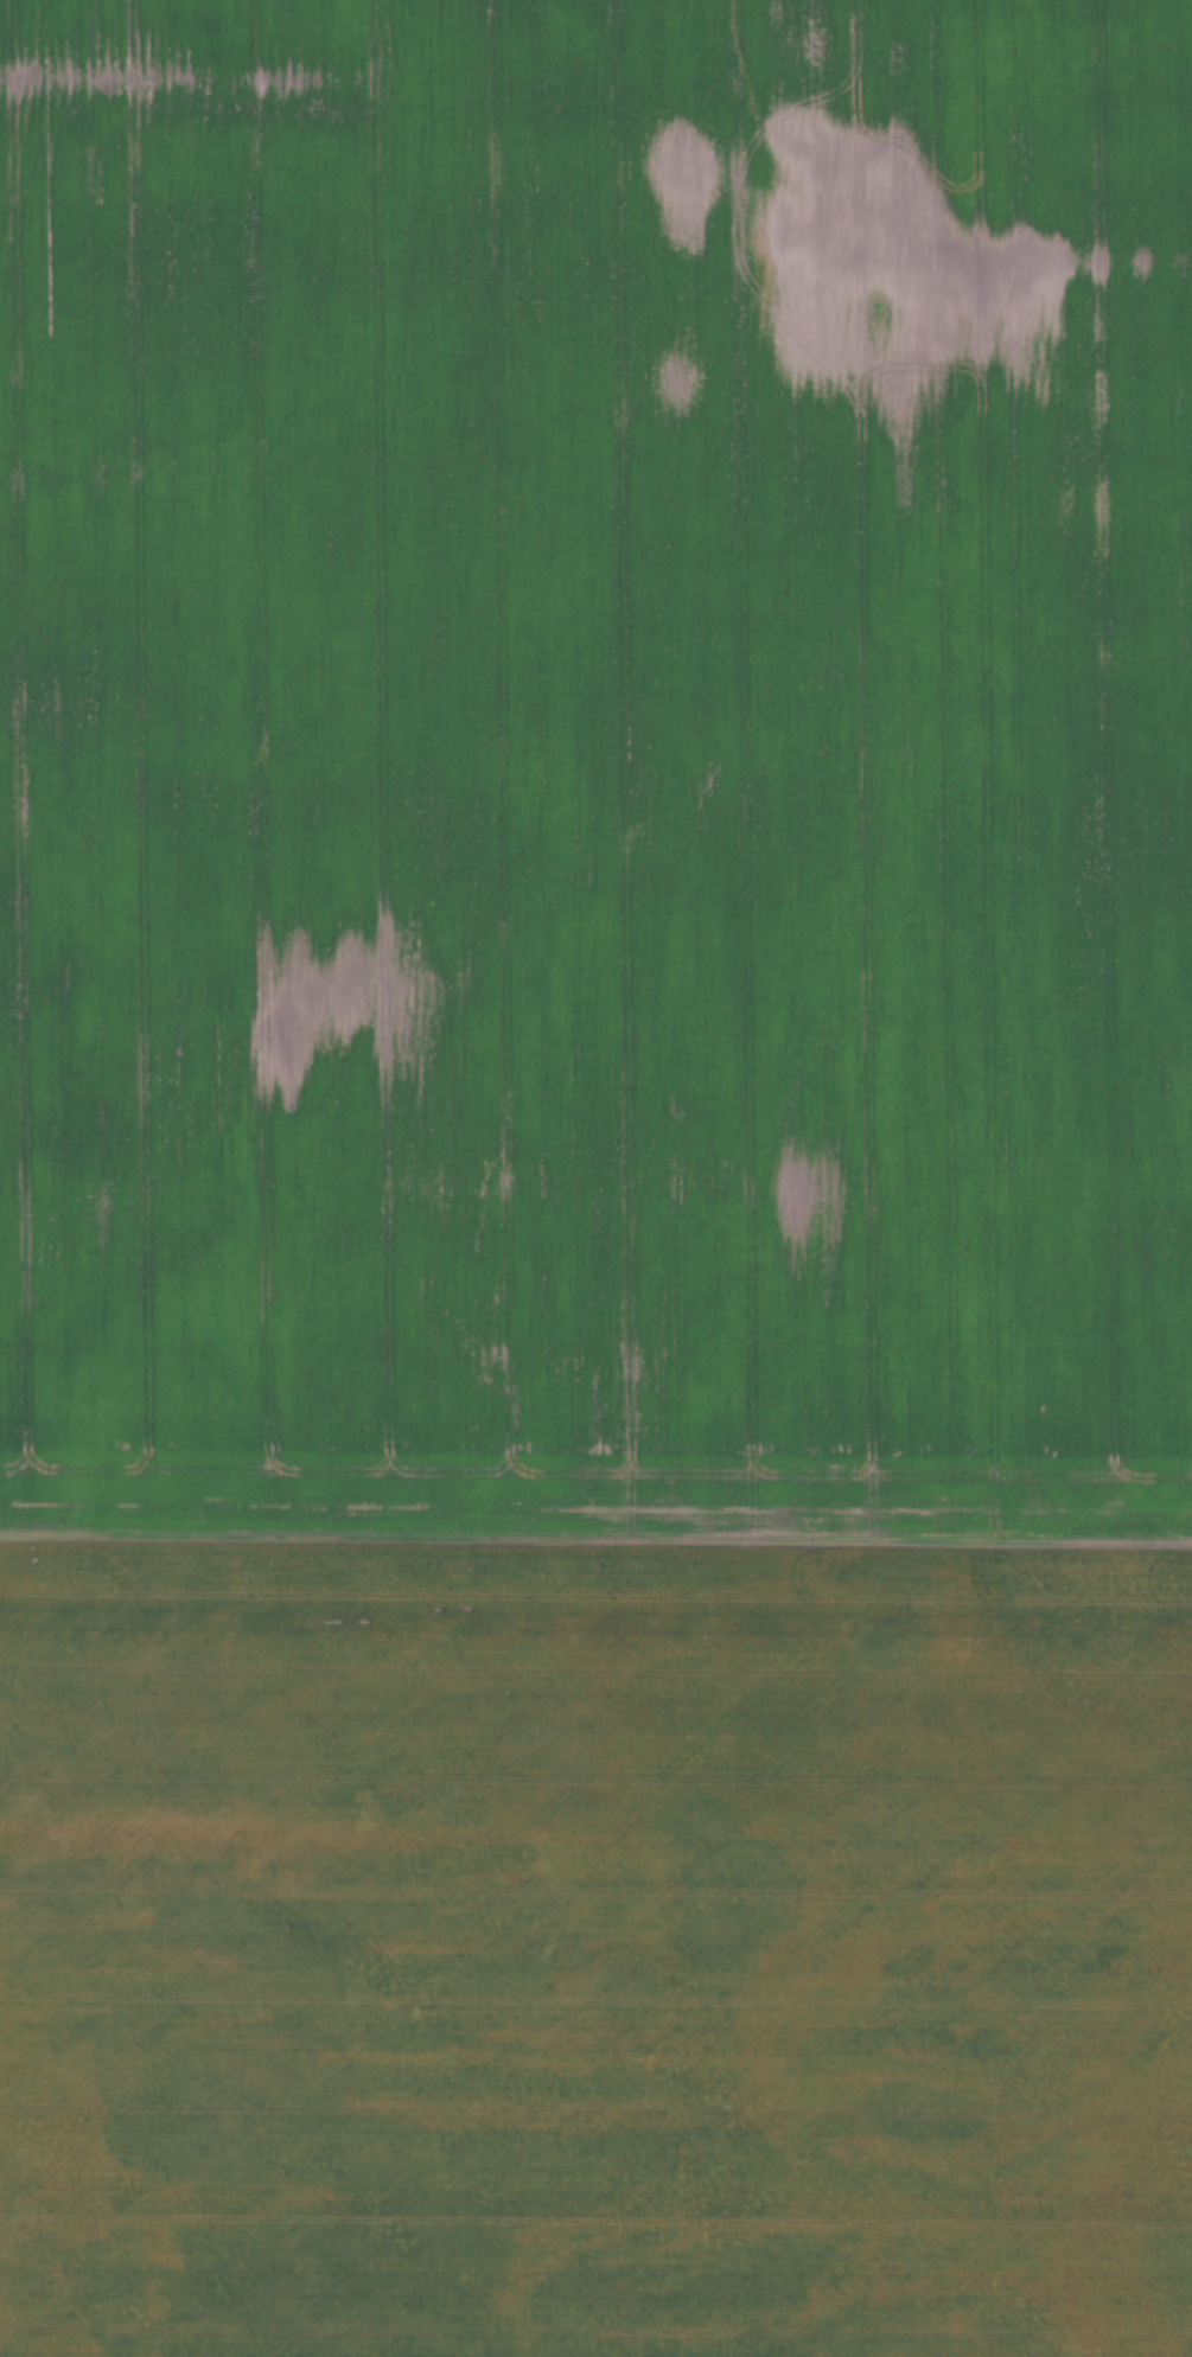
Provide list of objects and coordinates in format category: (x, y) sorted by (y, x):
road: (595, 1537)

